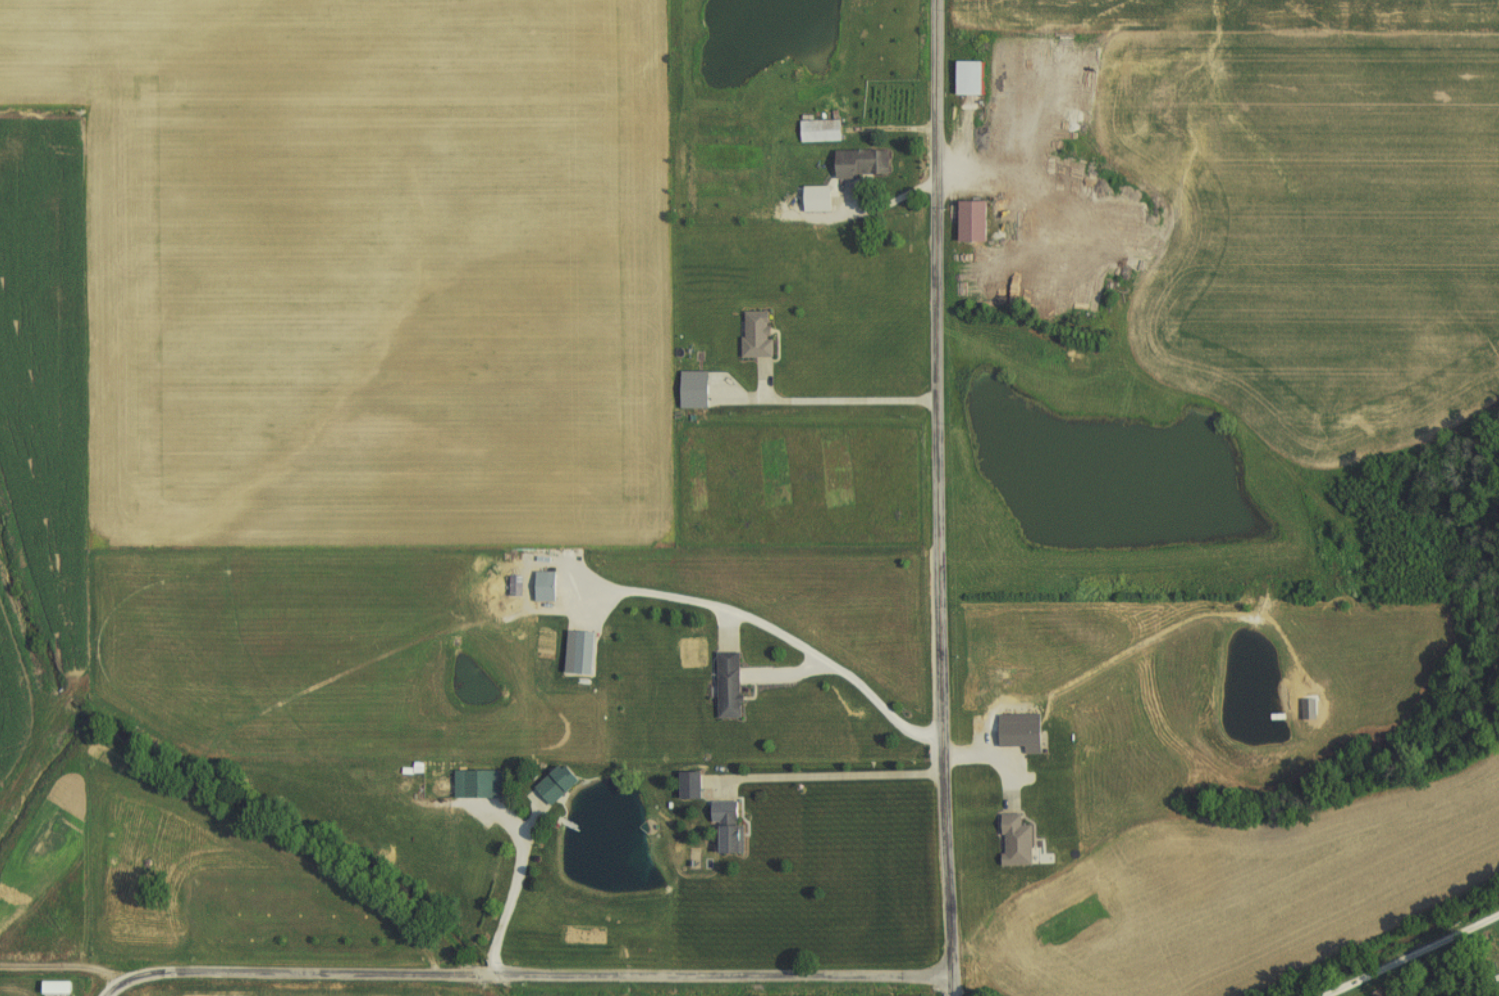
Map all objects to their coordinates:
building: (969, 80)
building: (819, 133)
building: (862, 167)
building: (816, 202)
building: (974, 225)
building: (759, 337)
building: (696, 392)
road: (852, 401)
road: (941, 498)
building: (546, 589)
road: (710, 600)
building: (585, 654)
road: (854, 677)
building: (731, 688)
building: (1309, 711)
building: (1023, 733)
road: (836, 775)
building: (558, 785)
building: (479, 786)
building: (731, 827)
building: (1019, 843)
road: (523, 881)
road: (1414, 955)
road: (528, 971)
building: (59, 990)

